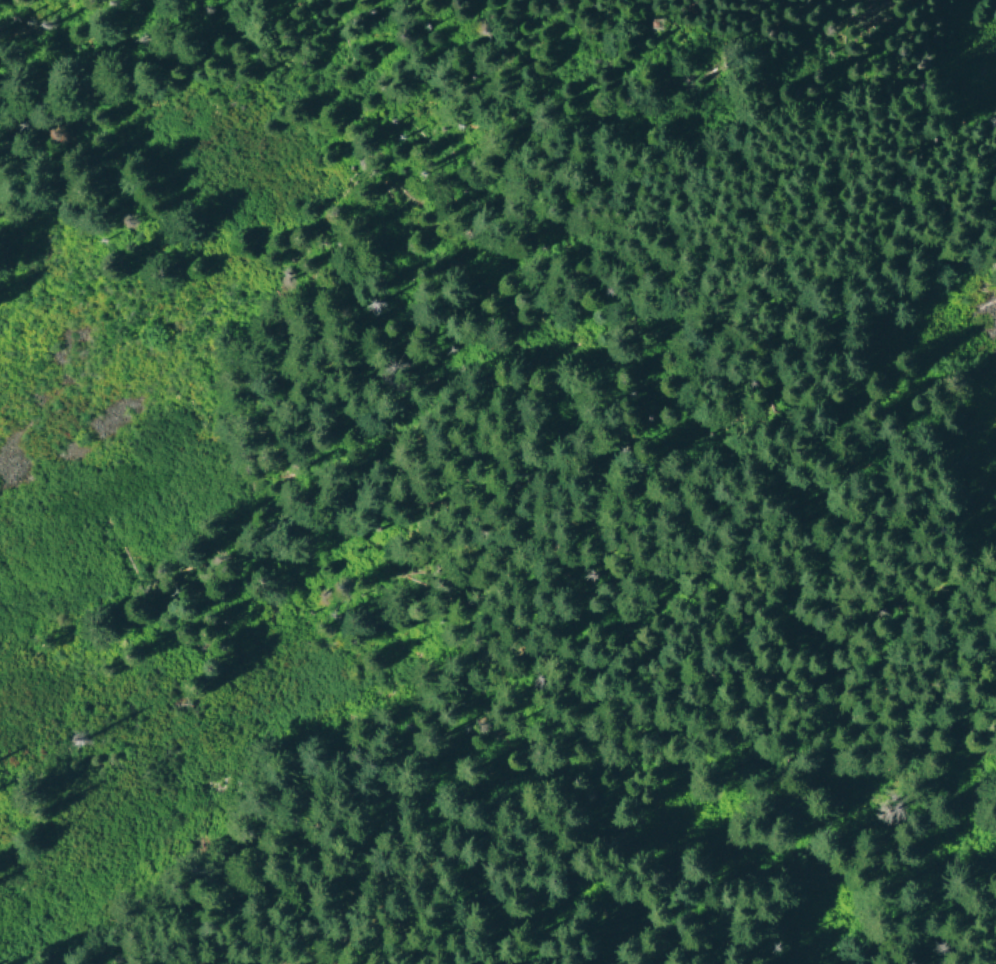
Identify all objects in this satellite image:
road: (764, 139)

